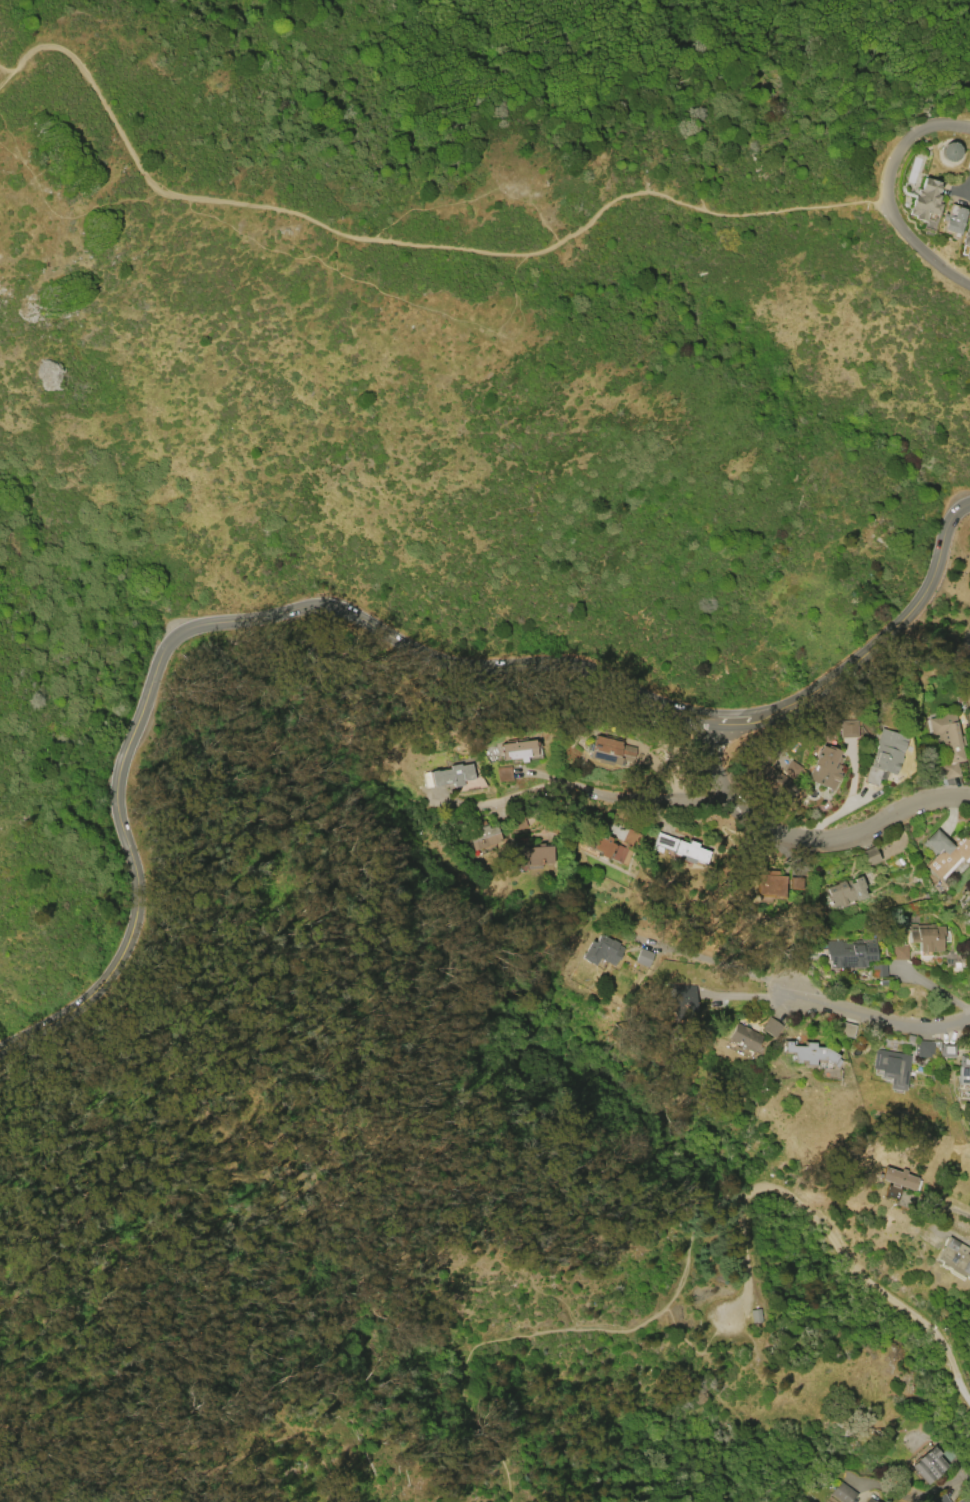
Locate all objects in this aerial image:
road: (505, 19)
road: (6, 71)
road: (697, 83)
road: (901, 136)
building: (951, 151)
road: (961, 173)
building: (926, 198)
building: (954, 220)
building: (966, 240)
road: (400, 243)
road: (916, 253)
road: (382, 631)
building: (848, 729)
building: (948, 742)
building: (519, 750)
building: (609, 751)
building: (886, 756)
building: (826, 767)
building: (792, 769)
building: (503, 773)
building: (452, 775)
building: (773, 779)
road: (579, 787)
building: (484, 837)
road: (804, 839)
building: (612, 845)
building: (679, 847)
building: (946, 851)
building: (869, 856)
building: (532, 857)
building: (770, 883)
building: (795, 883)
building: (846, 891)
building: (926, 937)
building: (601, 950)
building: (851, 952)
building: (899, 952)
building: (643, 957)
road: (723, 962)
building: (684, 1005)
road: (874, 1020)
building: (770, 1027)
building: (745, 1036)
building: (922, 1049)
building: (947, 1050)
building: (809, 1052)
building: (965, 1061)
building: (892, 1067)
building: (898, 1178)
road: (953, 1210)
road: (689, 1253)
building: (955, 1257)
road: (189, 1448)
building: (948, 1454)
building: (928, 1465)
road: (949, 1483)
building: (843, 1493)
building: (941, 1499)
building: (965, 1499)
building: (869, 1500)

